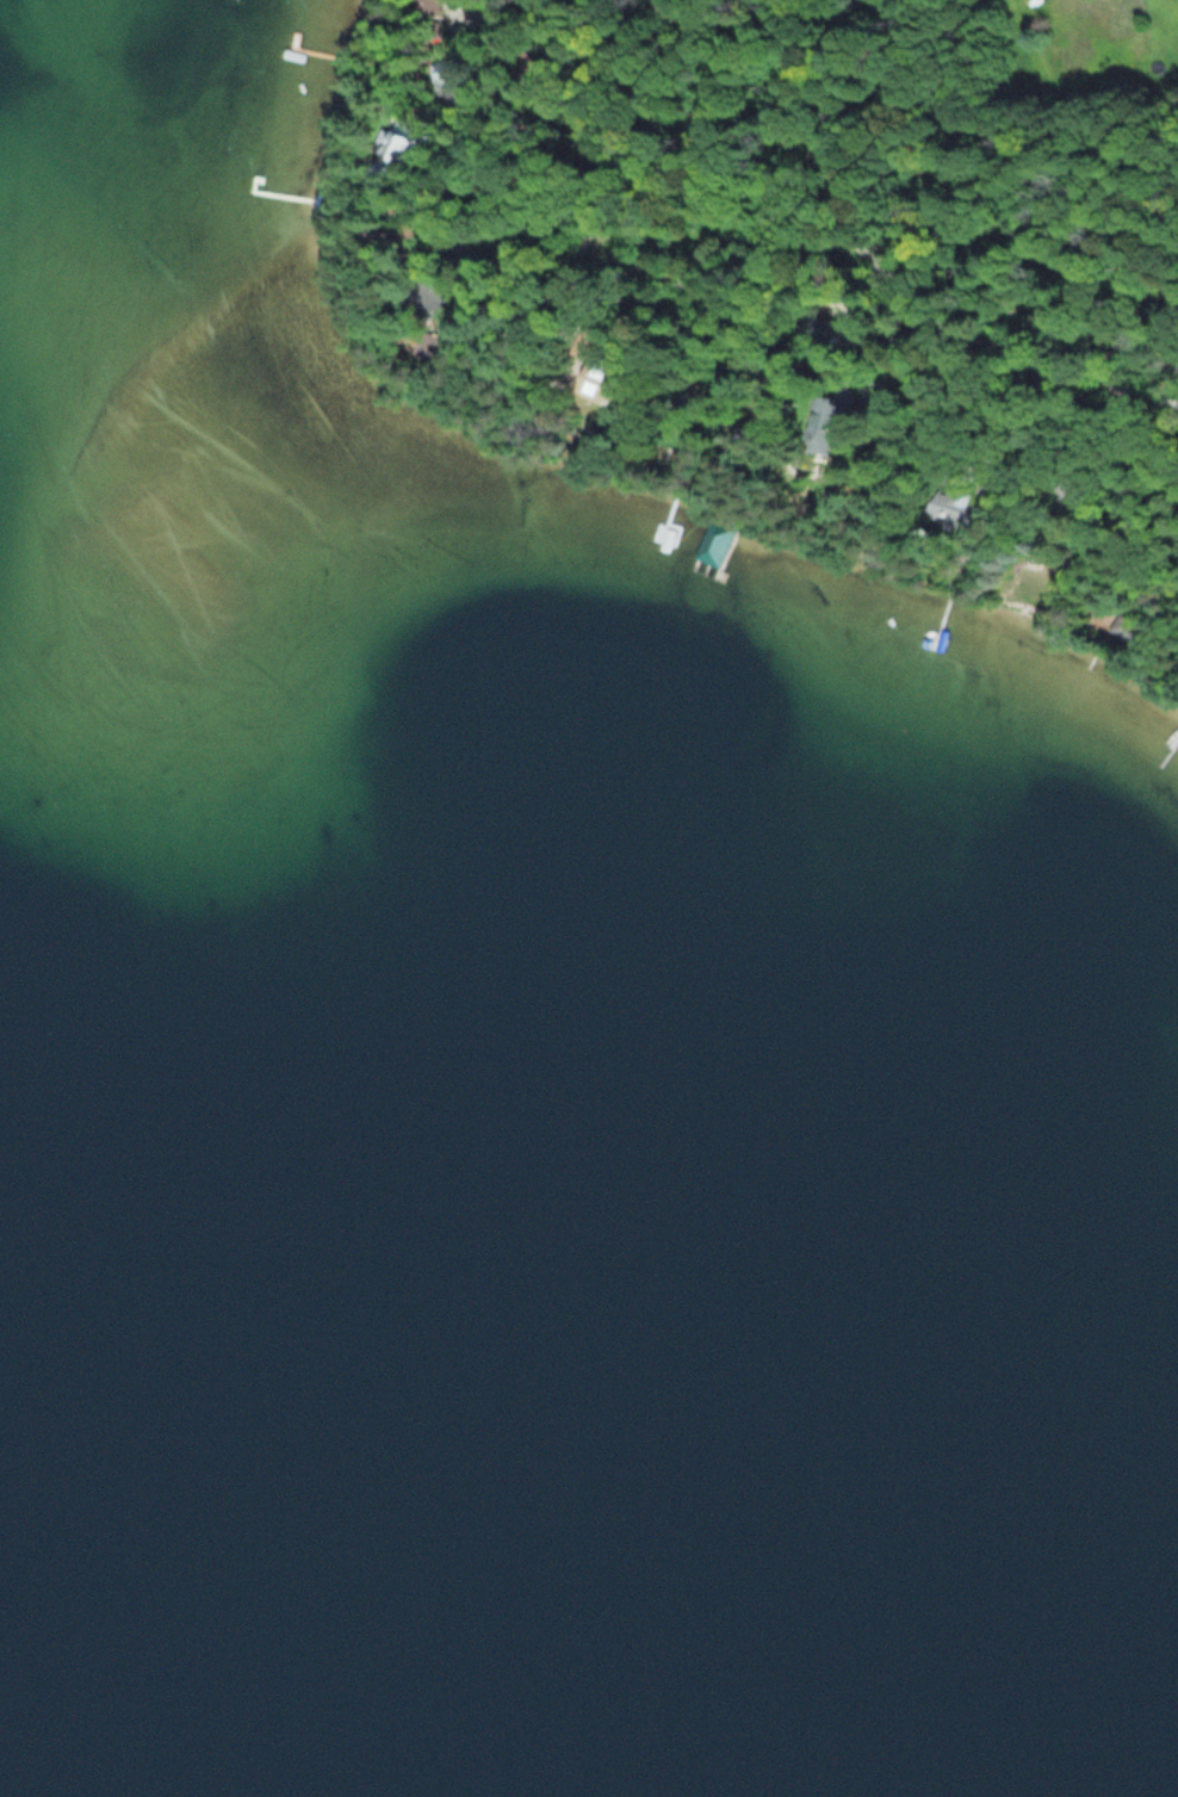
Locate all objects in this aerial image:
building: (449, 69)
road: (823, 120)
building: (399, 145)
building: (383, 238)
road: (975, 352)
building: (833, 420)
building: (957, 510)
building: (714, 539)

